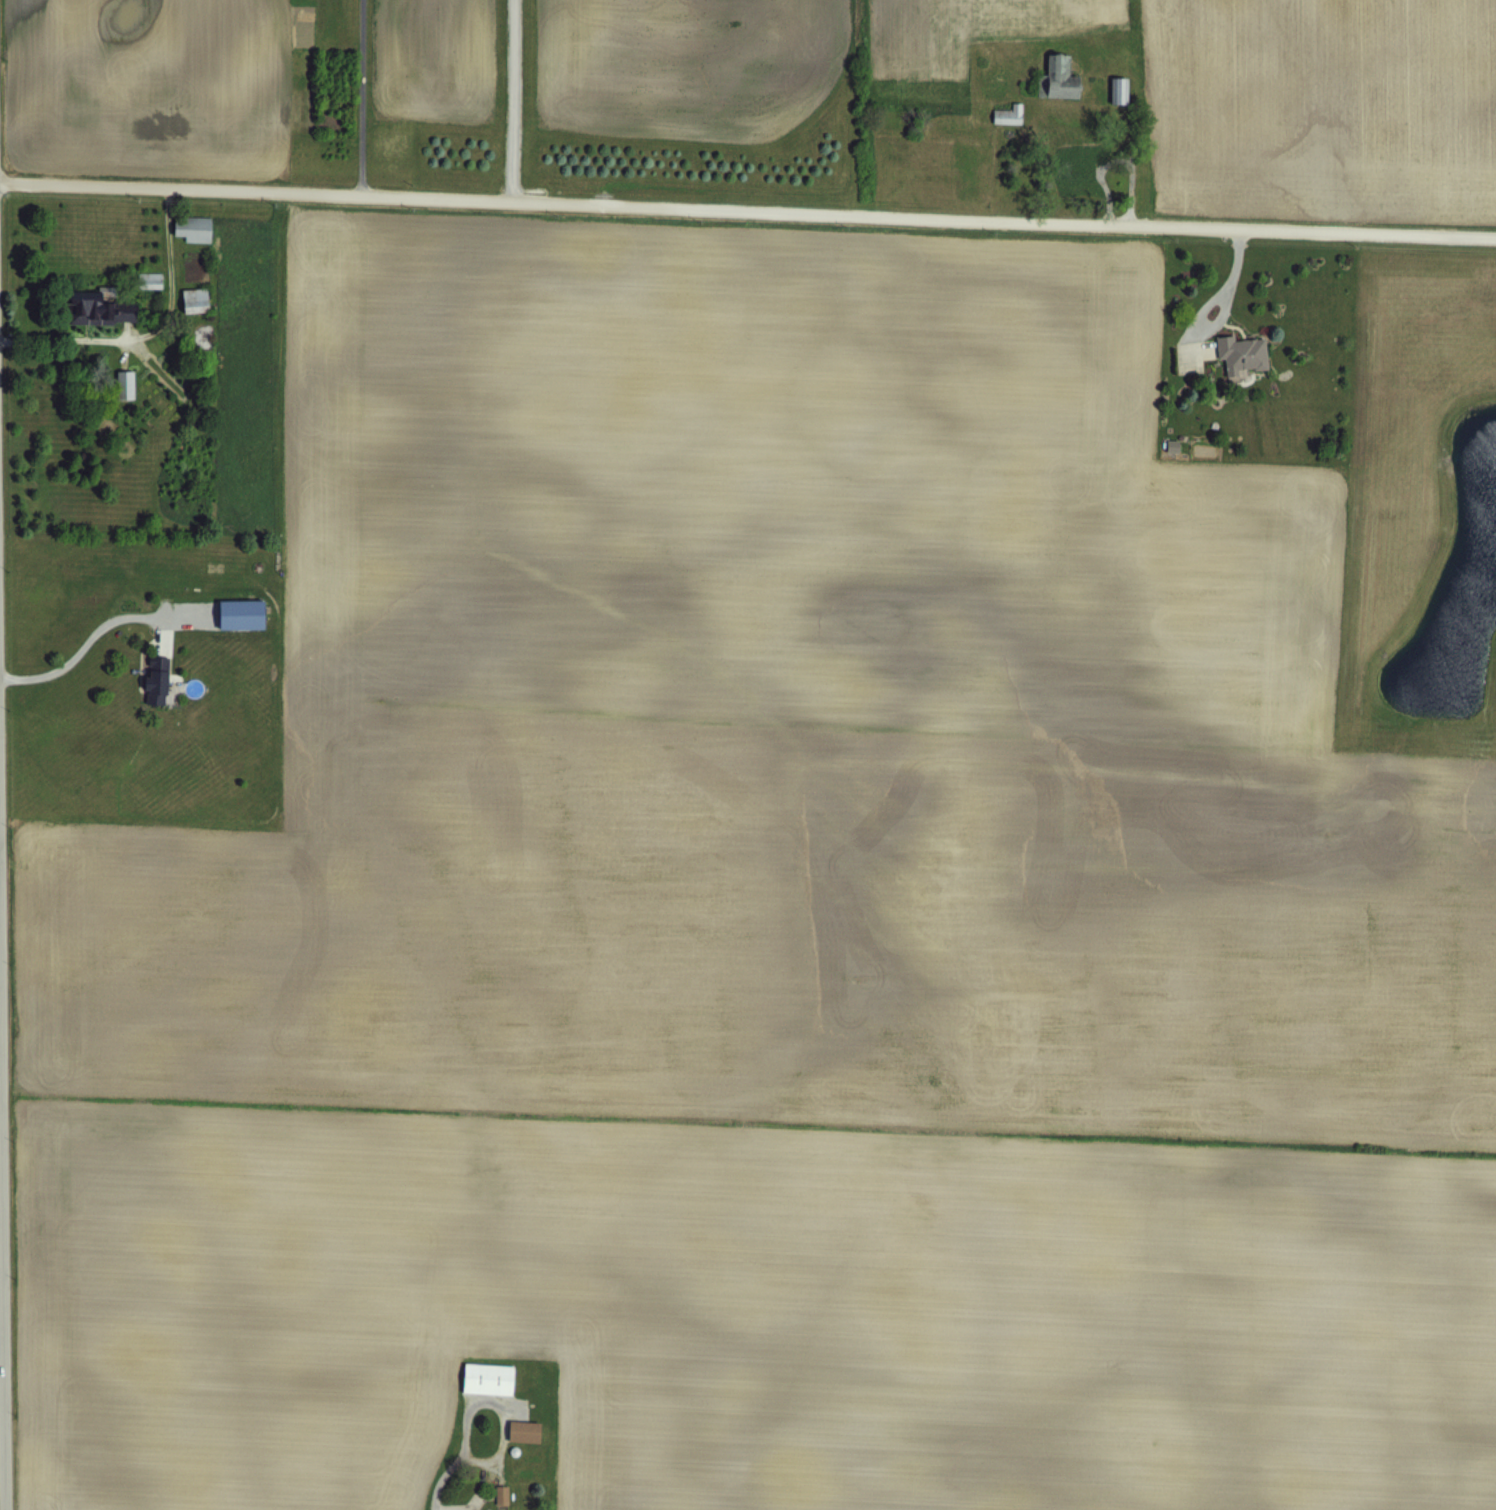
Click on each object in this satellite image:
building: (1059, 96)
road: (360, 97)
road: (513, 100)
building: (1120, 108)
building: (1010, 132)
road: (747, 210)
building: (192, 227)
road: (1230, 279)
building: (193, 299)
building: (97, 308)
road: (151, 330)
building: (124, 384)
building: (239, 614)
road: (83, 643)
building: (155, 679)
road: (2, 1239)
road: (498, 1407)
road: (436, 1480)

